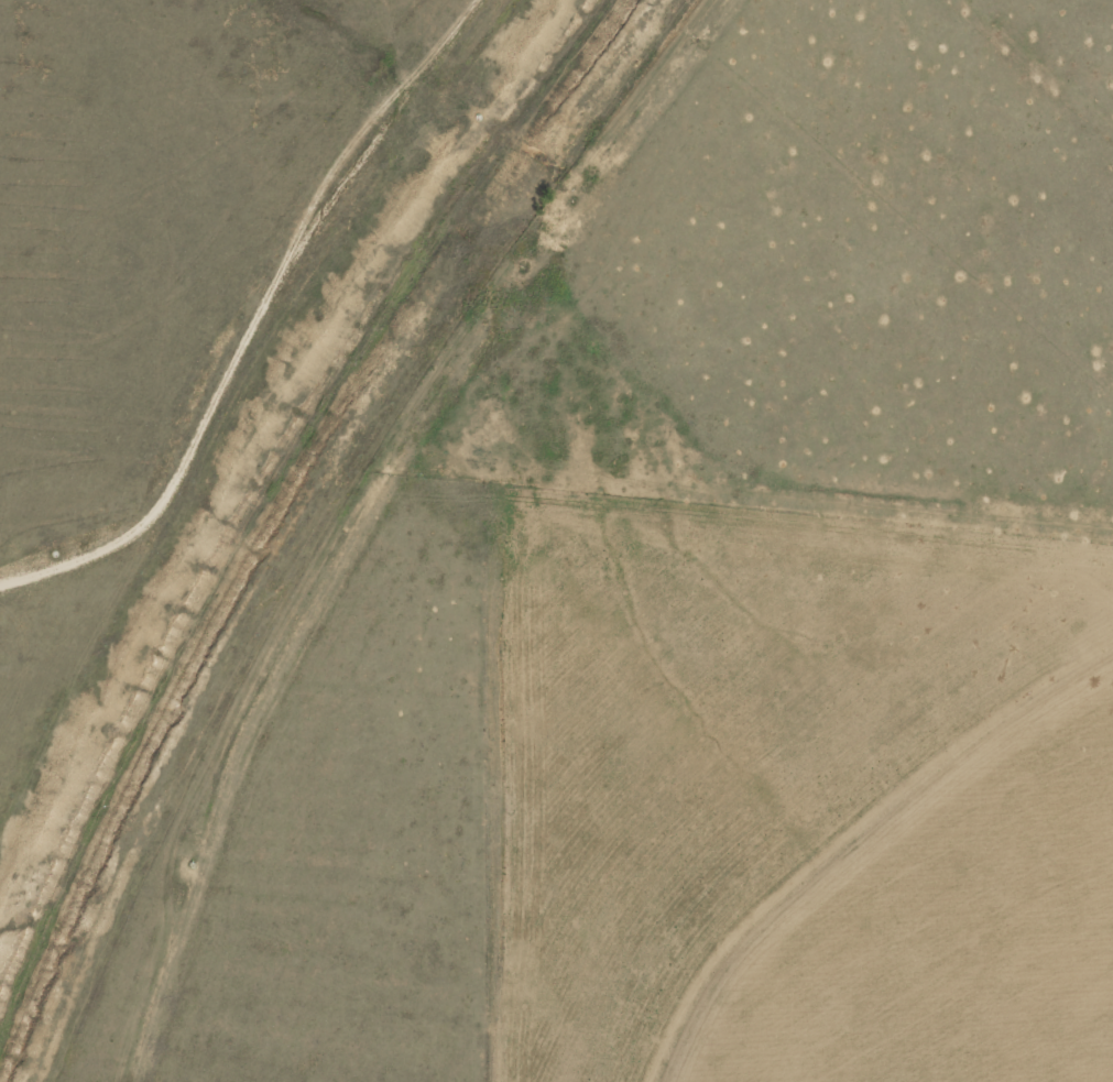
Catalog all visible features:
road: (282, 227)

